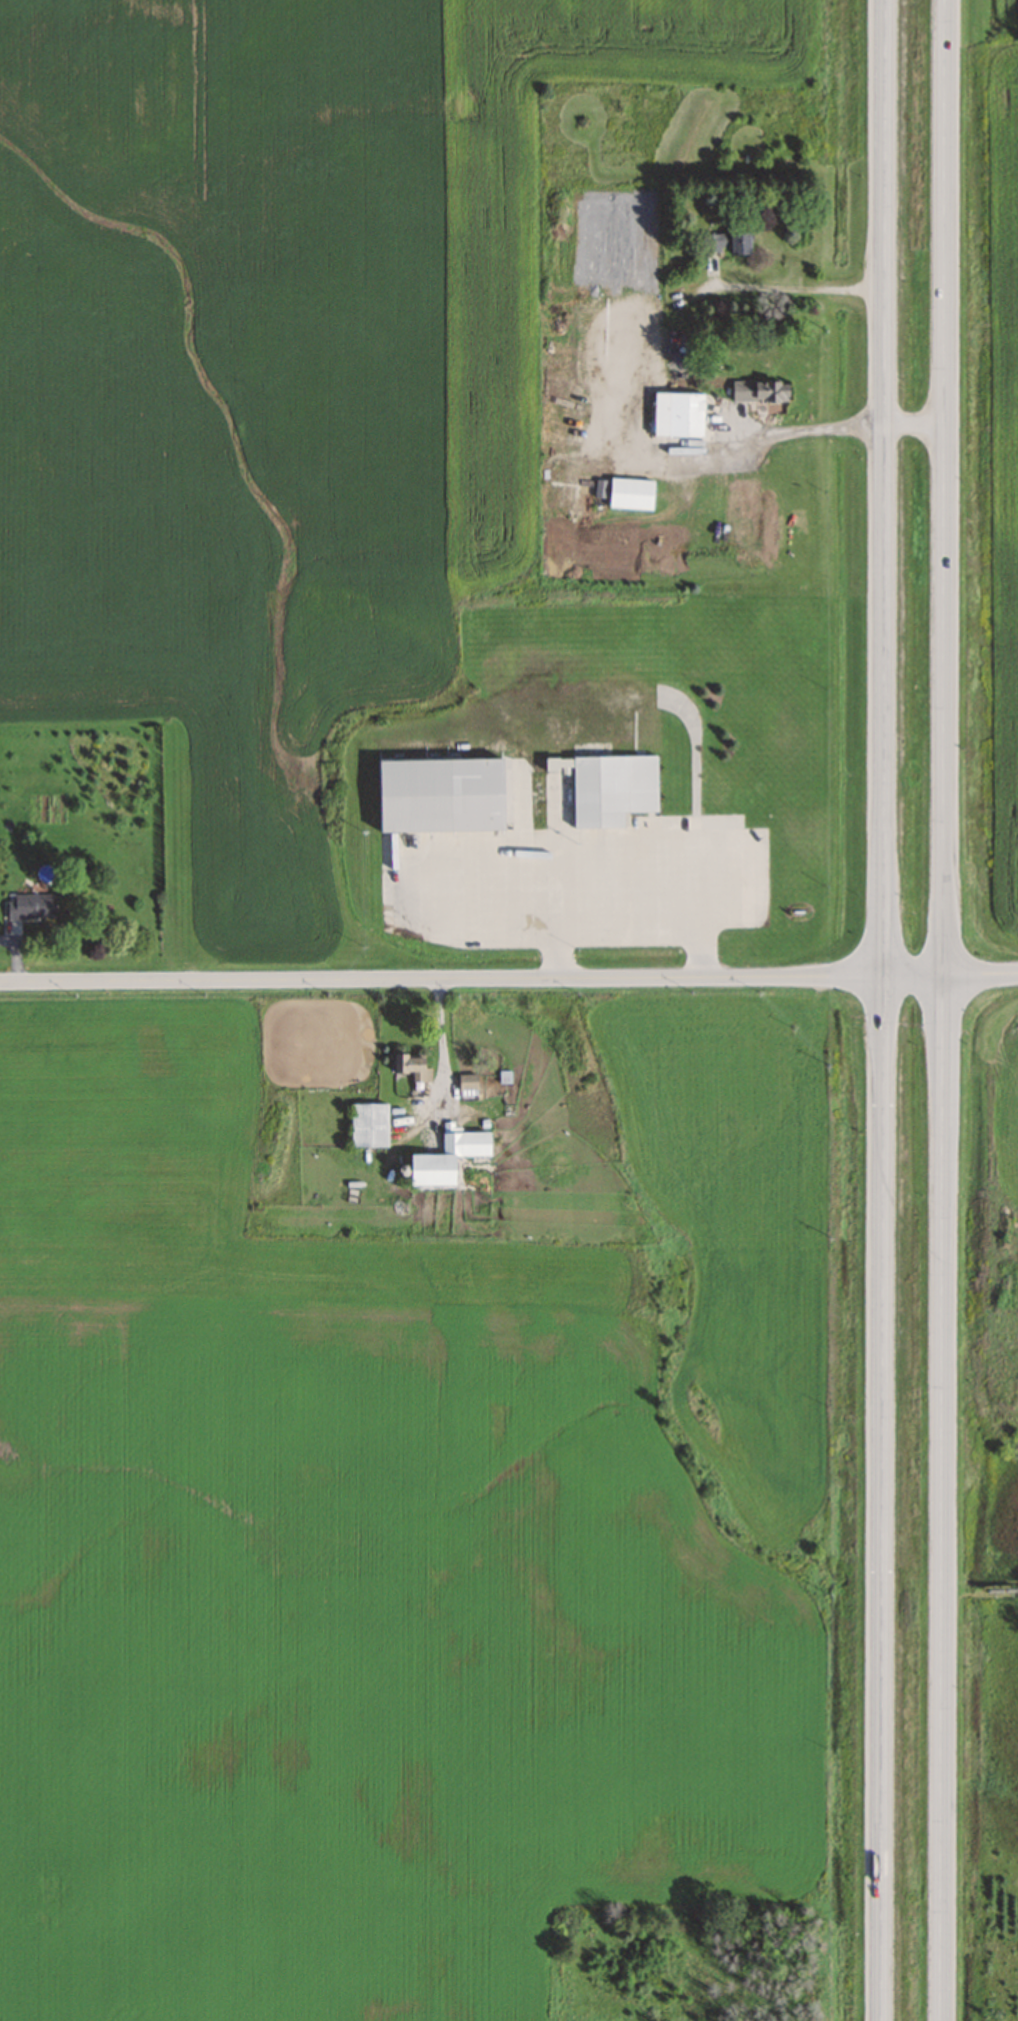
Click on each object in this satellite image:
building: (726, 241)
road: (800, 286)
building: (759, 390)
building: (677, 413)
road: (818, 426)
building: (591, 492)
building: (630, 493)
building: (612, 789)
building: (439, 794)
building: (30, 905)
road: (509, 978)
road: (884, 1010)
road: (940, 1010)
building: (412, 1066)
building: (505, 1077)
building: (467, 1084)
building: (368, 1124)
building: (445, 1157)

